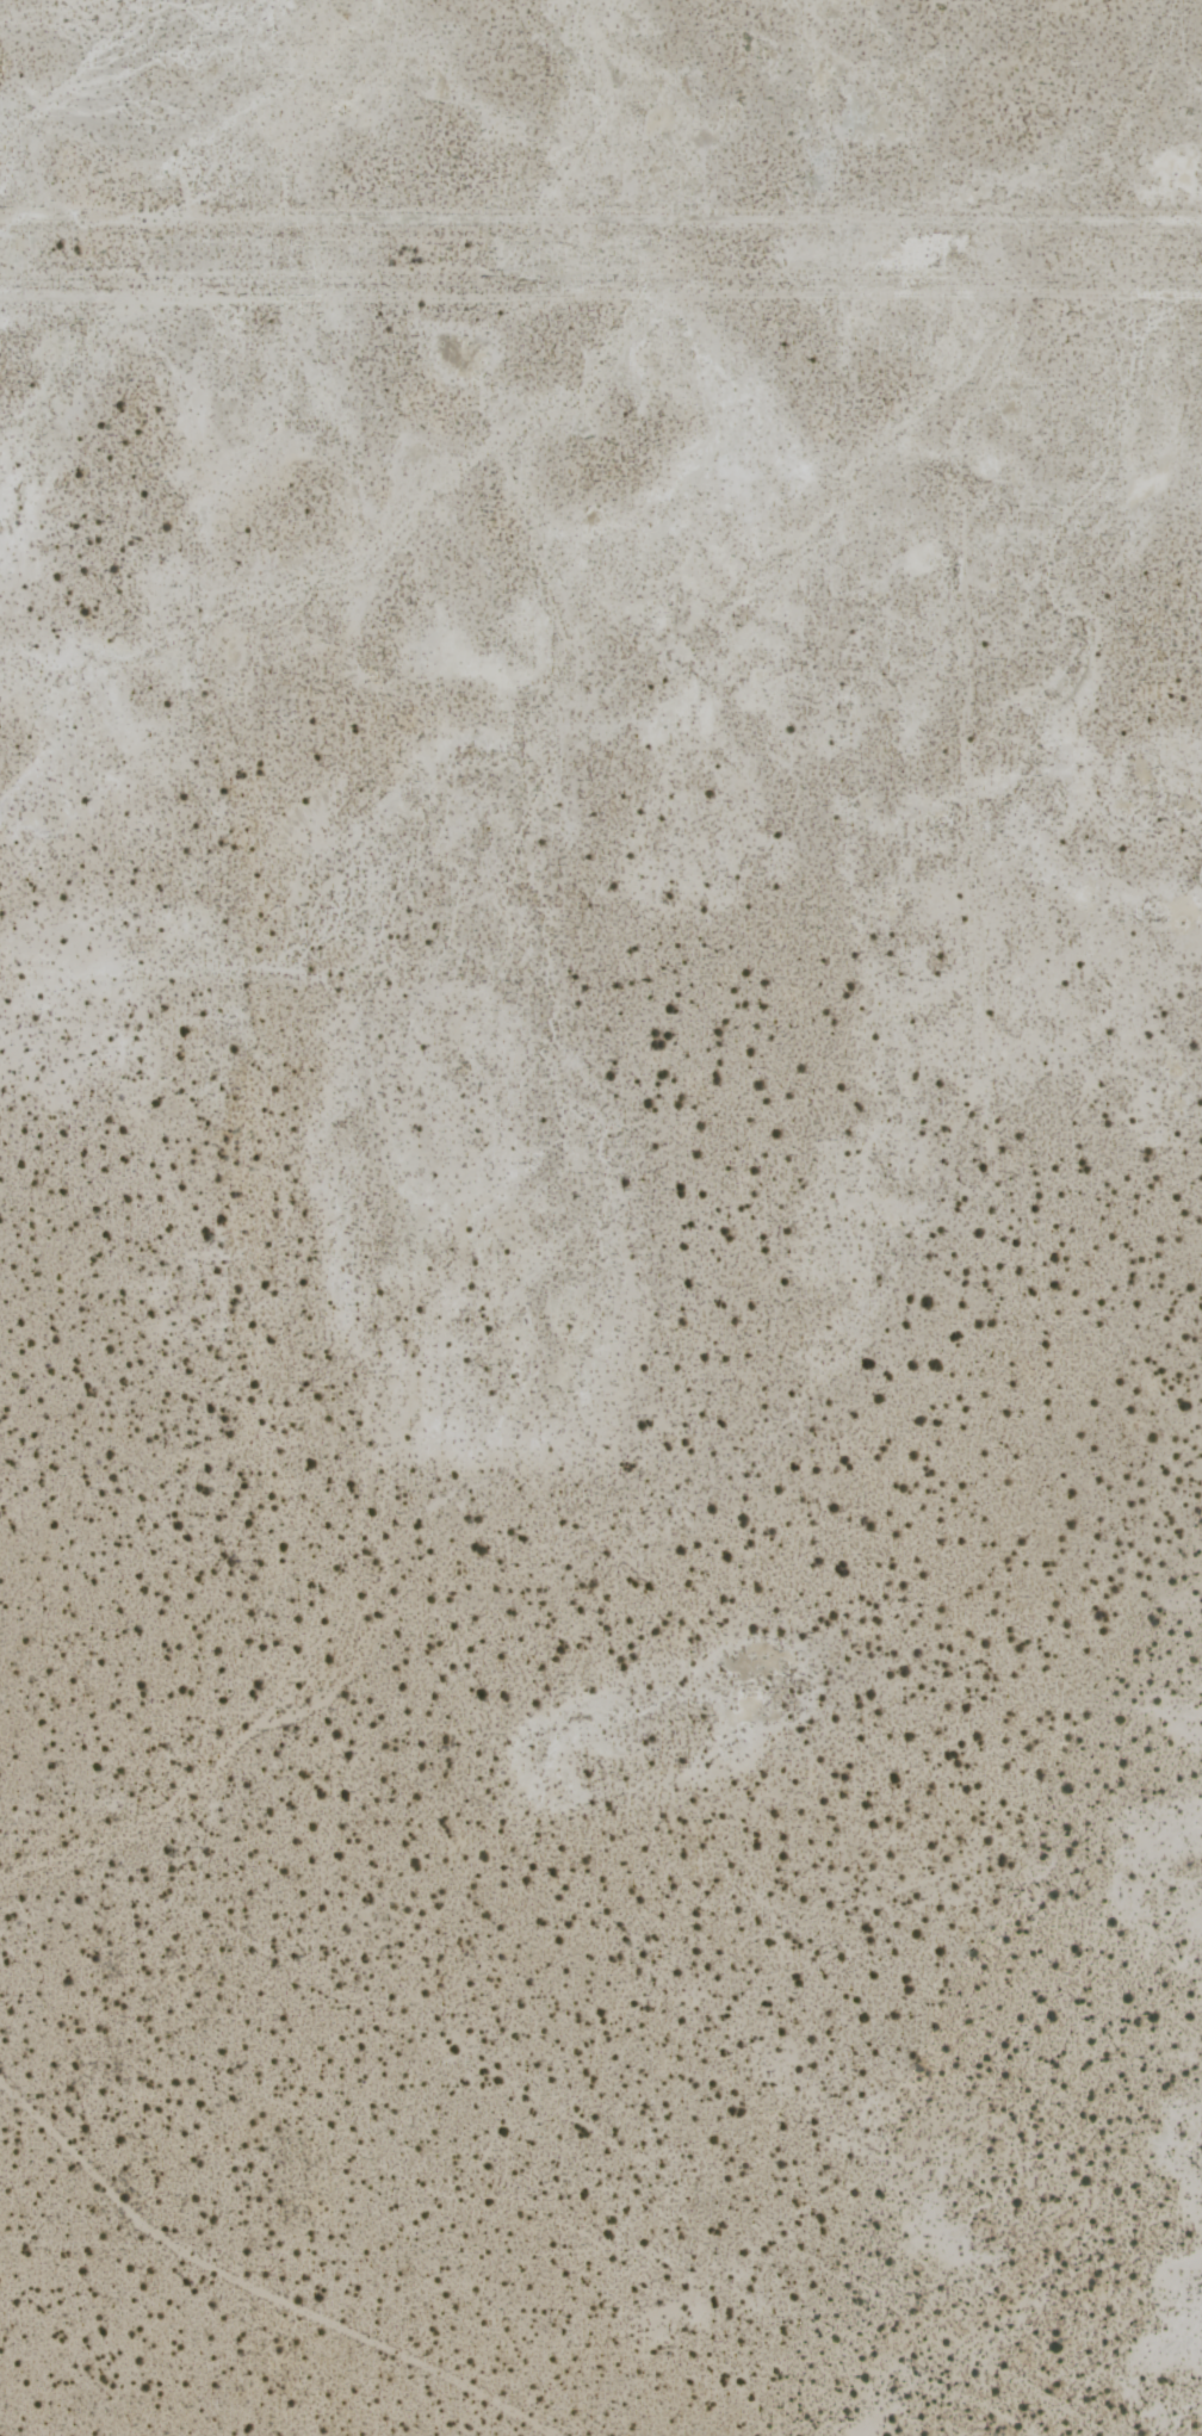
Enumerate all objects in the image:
airport: (601, 1369)

